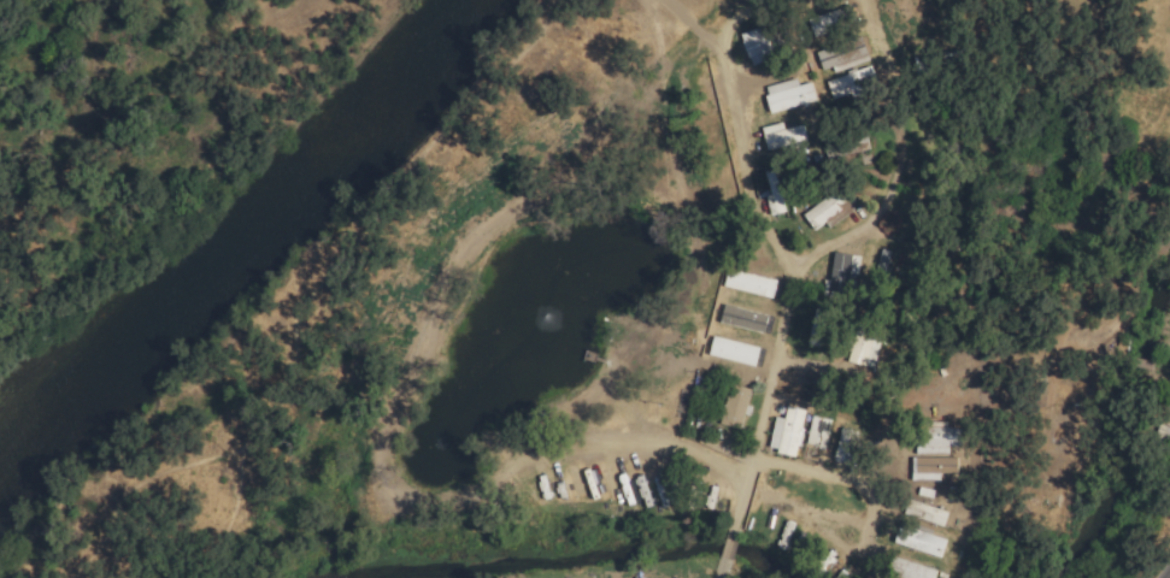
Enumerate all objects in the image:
road: (688, 25)
building: (762, 42)
building: (841, 55)
building: (849, 83)
building: (786, 95)
road: (736, 135)
building: (780, 136)
building: (770, 191)
building: (827, 207)
river: (253, 247)
building: (841, 277)
building: (737, 281)
building: (762, 290)
building: (858, 338)
road: (771, 360)
building: (733, 407)
building: (786, 432)
building: (816, 432)
building: (934, 438)
building: (842, 447)
road: (660, 452)
building: (930, 468)
road: (869, 509)
building: (923, 513)
building: (916, 539)
road: (724, 552)
road: (717, 573)

